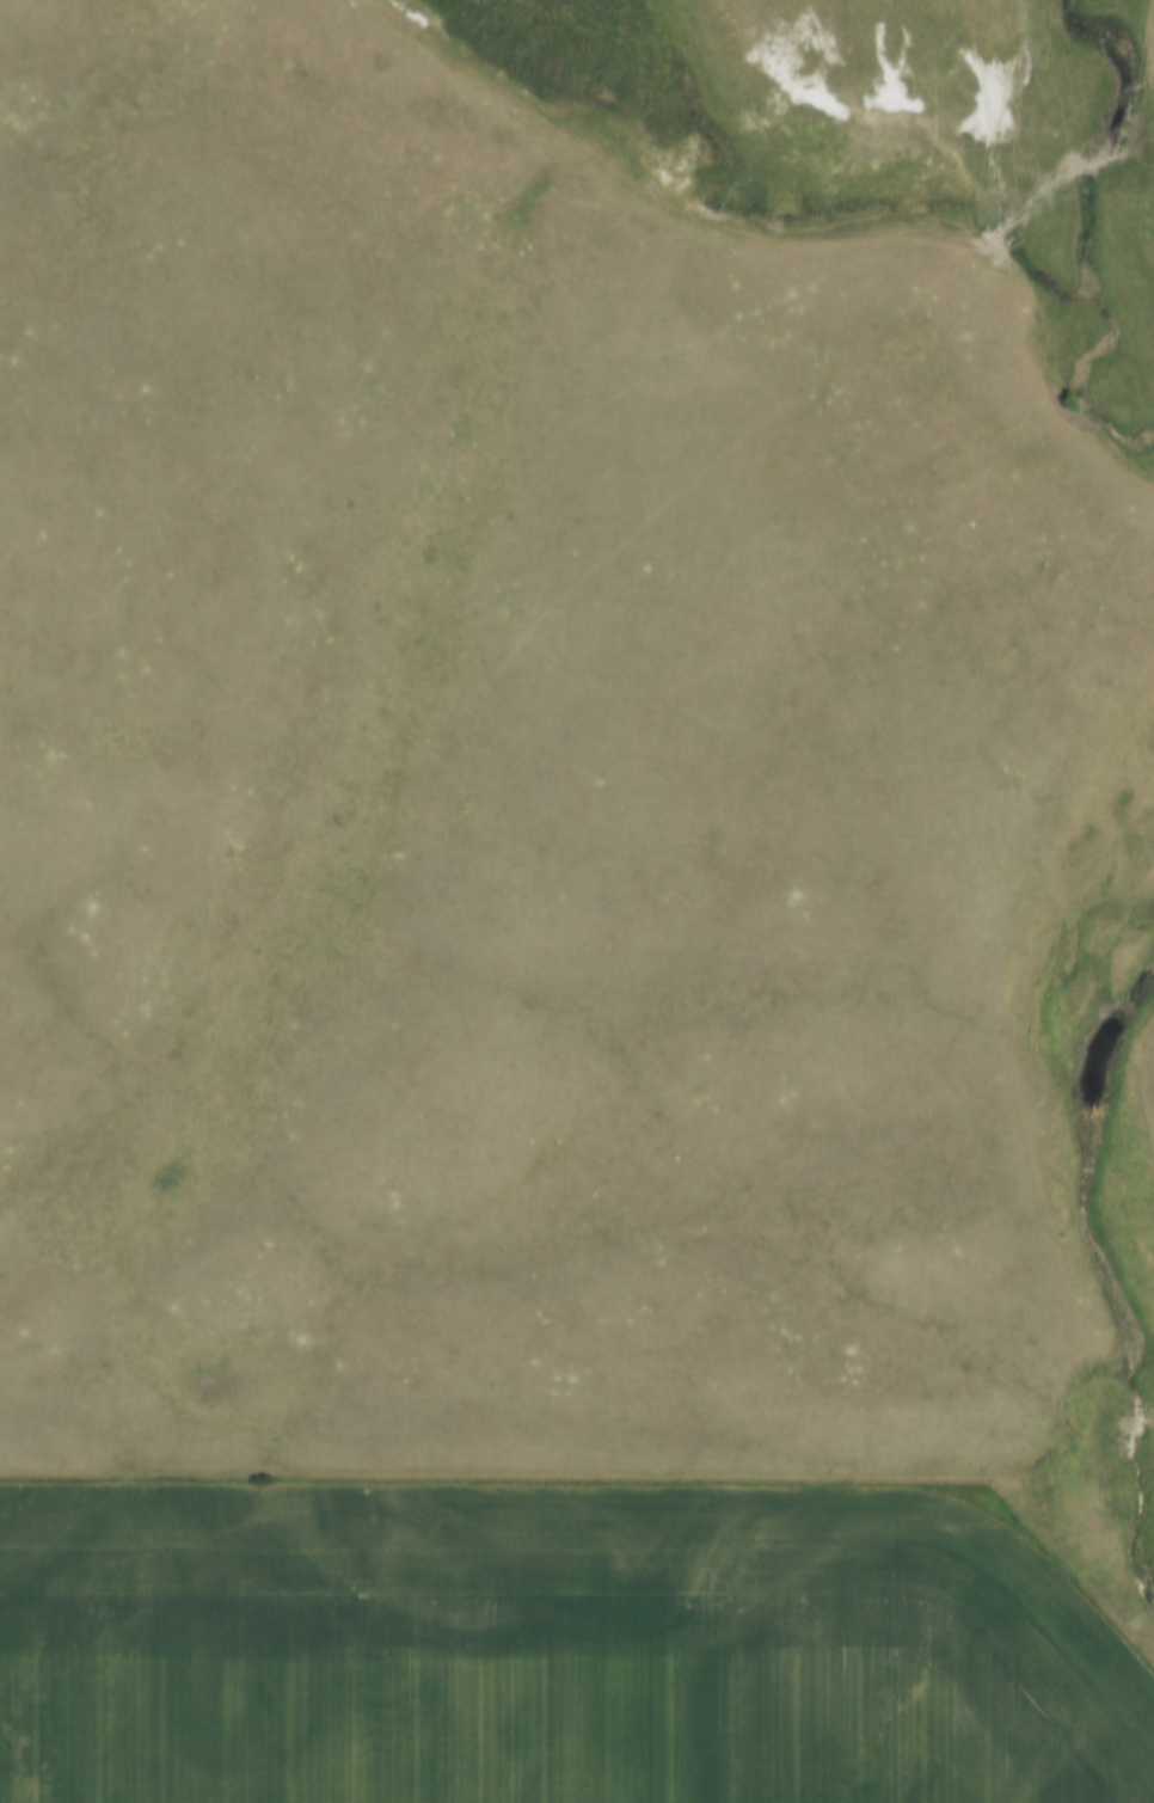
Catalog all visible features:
road: (475, 1482)

